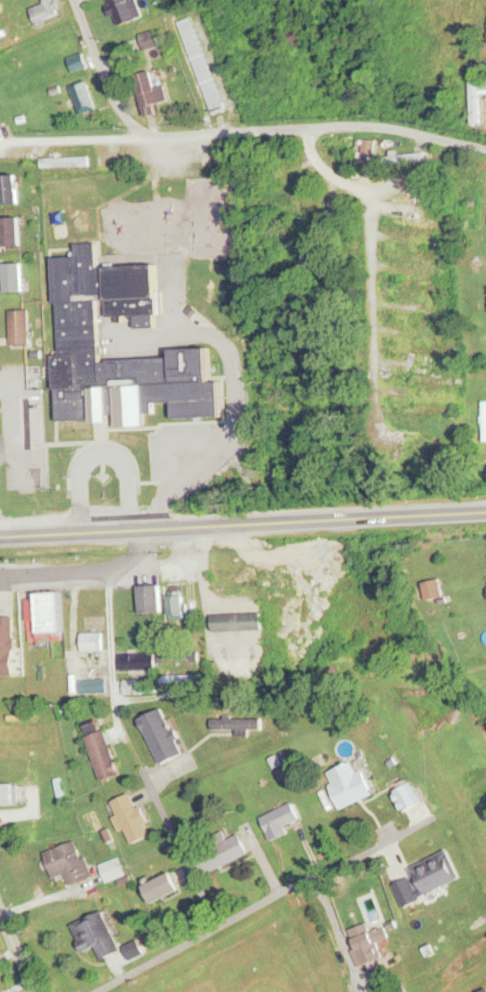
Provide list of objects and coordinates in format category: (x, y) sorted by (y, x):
building: (125, 10)
building: (46, 11)
building: (297, 41)
building: (78, 62)
building: (202, 64)
road: (110, 68)
building: (151, 92)
building: (83, 98)
building: (476, 101)
road: (243, 131)
building: (369, 148)
building: (394, 153)
building: (192, 157)
building: (11, 189)
building: (293, 191)
building: (409, 195)
building: (415, 220)
building: (14, 232)
building: (427, 254)
building: (308, 258)
road: (375, 261)
building: (15, 278)
building: (427, 319)
building: (20, 327)
building: (97, 339)
building: (435, 351)
building: (433, 379)
building: (428, 408)
building: (484, 421)
building: (431, 443)
building: (481, 457)
road: (243, 526)
road: (80, 572)
building: (153, 599)
building: (180, 608)
building: (35, 620)
building: (239, 622)
building: (177, 655)
building: (138, 662)
building: (11, 663)
building: (140, 687)
building: (21, 713)
building: (238, 725)
building: (162, 736)
building: (104, 756)
building: (350, 785)
building: (8, 795)
building: (406, 798)
building: (132, 819)
building: (281, 821)
building: (222, 853)
road: (185, 856)
building: (68, 862)
building: (113, 869)
building: (435, 874)
building: (163, 888)
road: (253, 909)
road: (333, 921)
building: (97, 935)
building: (368, 944)
road: (16, 958)

